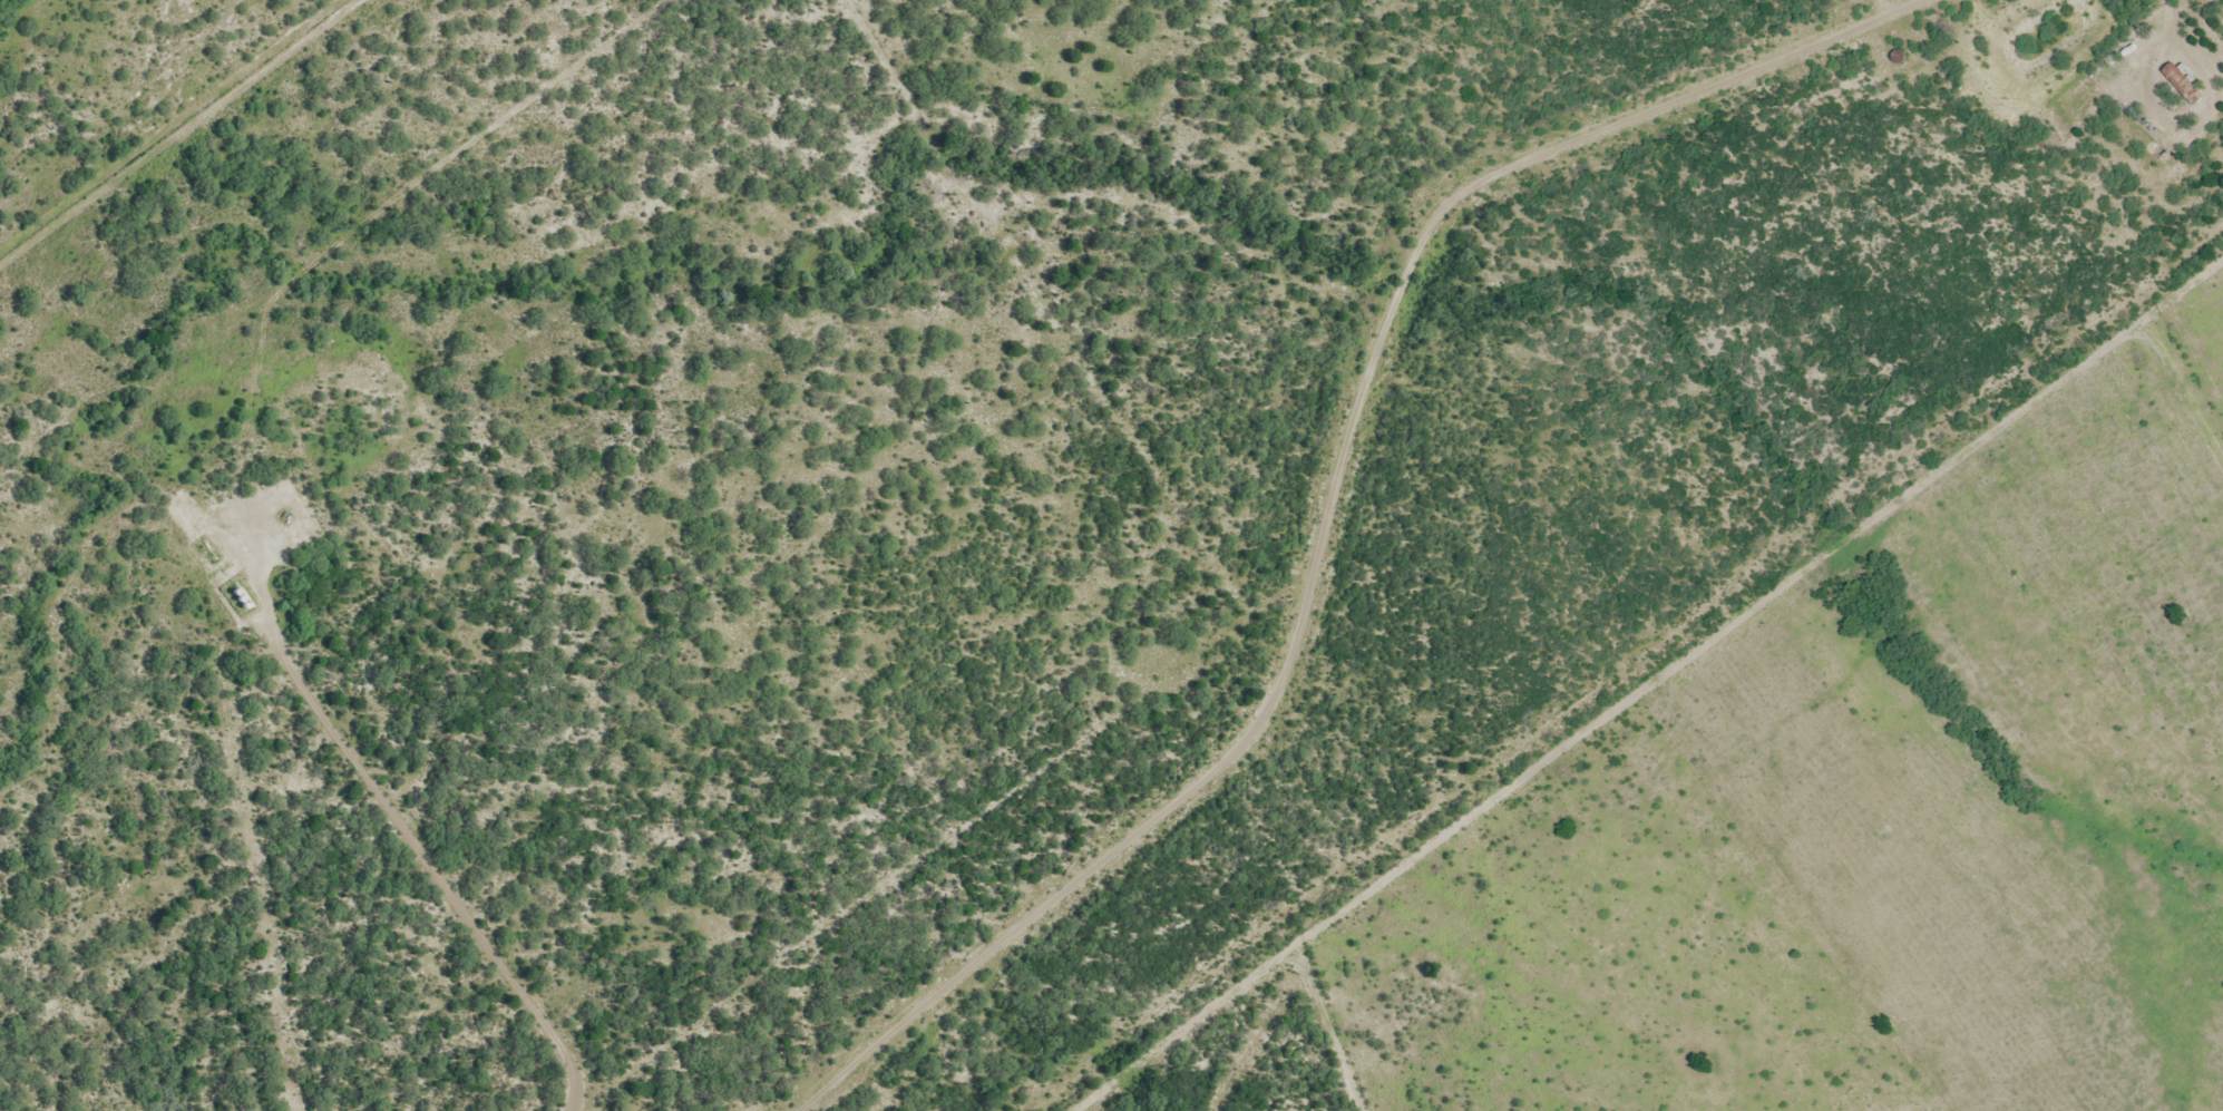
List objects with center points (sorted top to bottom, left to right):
building: (2177, 77)
road: (1334, 501)

